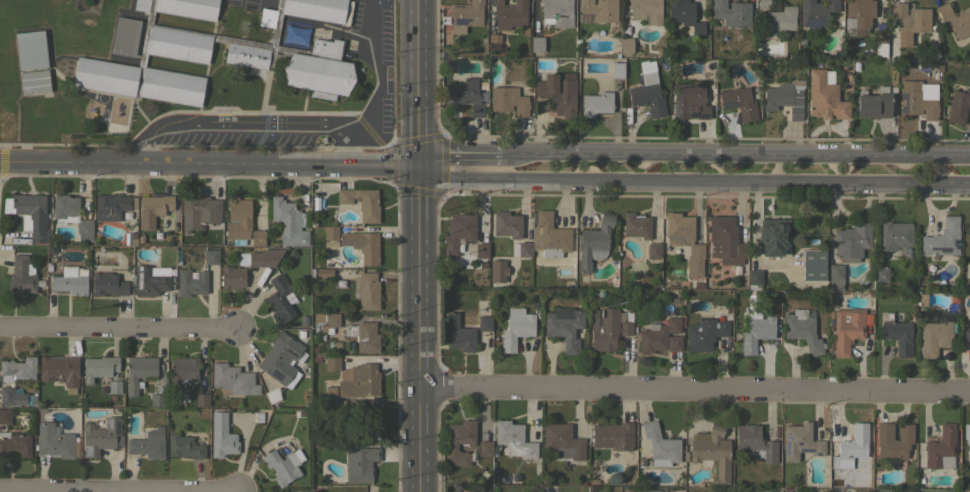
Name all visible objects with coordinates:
building: (249, 3)
building: (763, 3)
building: (597, 11)
building: (646, 11)
building: (556, 12)
building: (731, 12)
building: (816, 13)
building: (509, 14)
building: (465, 15)
building: (684, 15)
building: (858, 15)
building: (909, 18)
building: (780, 19)
building: (955, 19)
rooftop solar panel: (462, 20)
building: (83, 22)
rooftop solar panel: (821, 22)
rooftop solar panel: (814, 23)
road: (355, 34)
building: (123, 35)
building: (294, 35)
building: (880, 42)
building: (79, 43)
building: (536, 44)
building: (625, 45)
building: (30, 49)
building: (282, 52)
building: (617, 69)
road: (378, 74)
building: (34, 81)
building: (647, 90)
building: (558, 92)
building: (783, 94)
building: (467, 95)
building: (824, 96)
building: (508, 100)
rooftop solar panel: (640, 100)
building: (689, 100)
building: (916, 100)
building: (739, 102)
building: (596, 103)
building: (873, 105)
building: (958, 105)
rooftop solar panel: (676, 109)
building: (795, 112)
rooftop solar panel: (695, 114)
rooftop solar panel: (703, 116)
road: (249, 122)
road: (266, 145)
road: (735, 155)
road: (459, 160)
road: (208, 162)
road: (692, 182)
building: (361, 202)
building: (64, 205)
building: (113, 206)
building: (152, 209)
building: (198, 211)
building: (32, 214)
building: (238, 220)
building: (288, 222)
building: (506, 224)
building: (636, 225)
building: (85, 226)
building: (968, 227)
building: (458, 231)
building: (895, 235)
building: (331, 236)
building: (549, 236)
building: (772, 236)
building: (256, 237)
building: (942, 238)
building: (684, 240)
building: (725, 240)
building: (851, 241)
building: (594, 242)
building: (362, 245)
road: (418, 245)
building: (524, 249)
building: (50, 250)
building: (481, 250)
building: (653, 250)
building: (211, 256)
building: (259, 257)
building: (813, 264)
building: (497, 271)
rooftop solar panel: (146, 272)
building: (323, 272)
building: (880, 274)
building: (23, 276)
rooftop solar panel: (139, 276)
building: (835, 276)
building: (232, 277)
building: (754, 278)
rooftop solar panel: (155, 279)
building: (70, 280)
rooftop solar panel: (160, 280)
building: (149, 281)
building: (190, 282)
building: (108, 283)
building: (698, 285)
building: (366, 290)
building: (280, 299)
rooftop solar panel: (562, 313)
building: (332, 320)
building: (303, 321)
building: (484, 323)
road: (119, 325)
building: (564, 326)
building: (516, 328)
building: (609, 328)
building: (846, 328)
building: (802, 330)
building: (757, 332)
building: (704, 333)
building: (458, 334)
building: (897, 334)
building: (657, 335)
building: (363, 336)
building: (934, 337)
building: (966, 337)
building: (674, 343)
rooftop solar panel: (290, 351)
building: (281, 359)
building: (331, 363)
building: (98, 367)
building: (17, 369)
building: (184, 369)
building: (59, 371)
building: (138, 371)
rooftop solar panel: (276, 373)
building: (233, 379)
building: (358, 380)
building: (114, 386)
road: (695, 390)
building: (272, 395)
building: (11, 396)
building: (156, 400)
building: (201, 400)
building: (336, 406)
building: (5, 416)
building: (367, 423)
rooftop solar panel: (110, 424)
rooftop solar panel: (117, 427)
building: (221, 435)
building: (101, 436)
rooftop solar panel: (789, 436)
building: (615, 438)
building: (967, 438)
building: (513, 439)
building: (893, 440)
building: (460, 441)
building: (562, 441)
building: (800, 441)
building: (55, 442)
building: (148, 443)
building: (755, 443)
rooftop solar panel: (798, 443)
building: (15, 444)
building: (660, 445)
building: (184, 446)
building: (851, 447)
building: (939, 447)
building: (484, 448)
rooftop solar panel: (786, 448)
rooftop solar panel: (805, 448)
rooftop solar panel: (84, 451)
building: (711, 453)
rooftop solar panel: (820, 453)
building: (360, 463)
building: (283, 465)
road: (121, 488)
building: (648, 490)
building: (905, 491)

